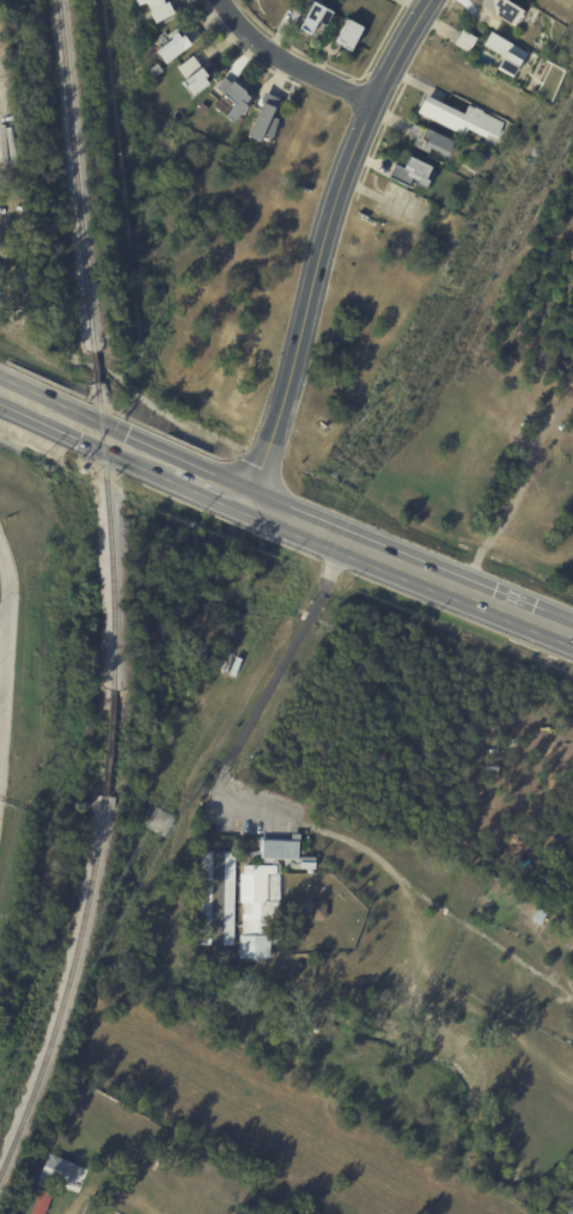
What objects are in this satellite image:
building: (153, 8)
building: (500, 11)
building: (311, 16)
building: (349, 35)
building: (465, 42)
building: (169, 48)
building: (500, 51)
road: (292, 60)
building: (153, 71)
road: (416, 81)
building: (195, 83)
building: (231, 98)
building: (262, 118)
building: (461, 120)
road: (383, 134)
building: (428, 140)
building: (408, 171)
road: (377, 184)
road: (383, 197)
parking lot: (407, 205)
road: (323, 240)
railway: (97, 337)
road: (84, 423)
road: (209, 478)
road: (413, 557)
road: (5, 623)
road: (8, 635)
wastewater plant: (25, 637)
road: (0, 715)
railway: (111, 736)
road: (261, 809)
power tower: (157, 823)
building: (245, 896)
building: (318, 911)
building: (221, 951)
railway: (67, 988)
building: (55, 1171)
building: (41, 1202)
road: (572, 1213)

